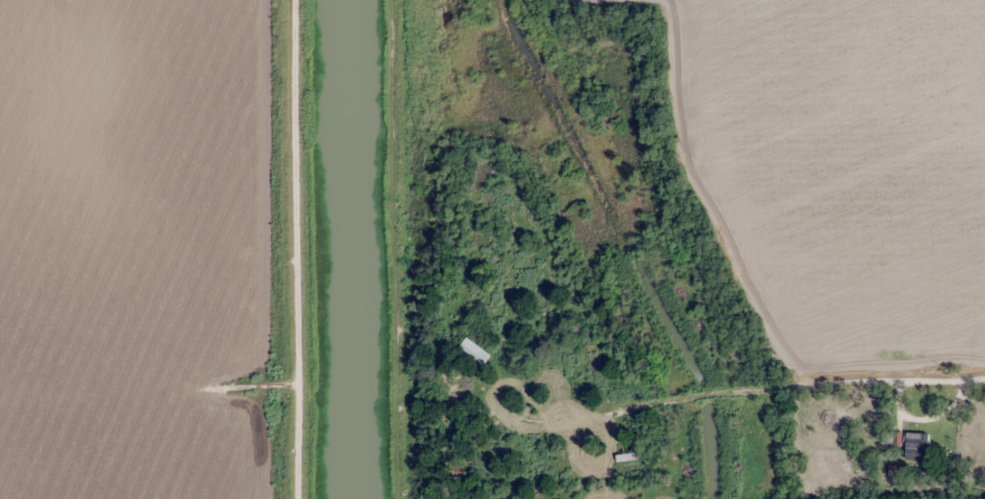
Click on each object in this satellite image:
road: (306, 249)
river: (355, 249)
building: (474, 351)
road: (818, 375)
building: (916, 446)
building: (630, 455)

